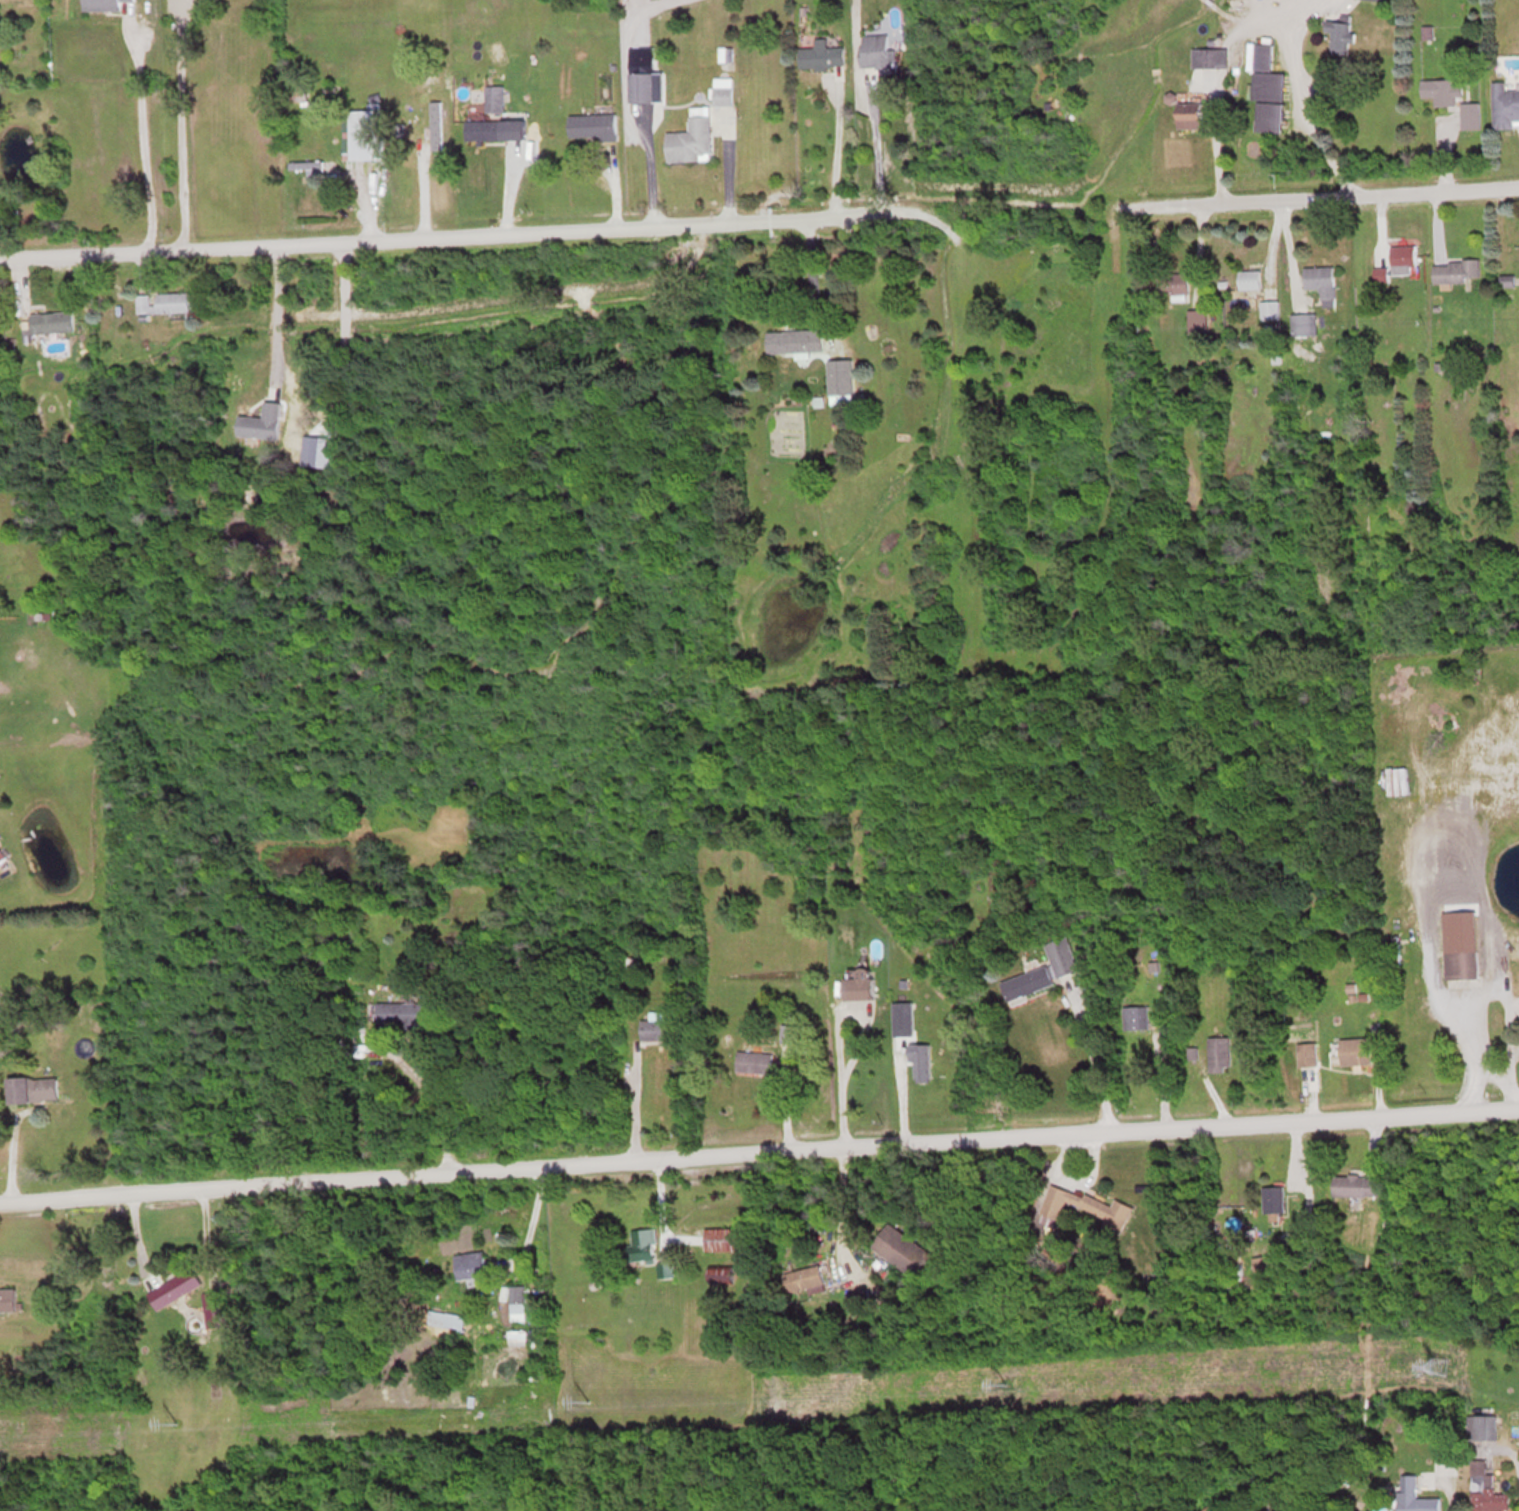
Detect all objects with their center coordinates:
building: (101, 5)
building: (1339, 34)
building: (876, 53)
building: (821, 56)
building: (1209, 58)
building: (641, 88)
building: (1265, 89)
building: (1440, 91)
building: (721, 96)
road: (1302, 98)
building: (494, 99)
building: (1504, 106)
building: (1470, 116)
building: (1188, 120)
building: (371, 121)
building: (436, 125)
building: (592, 127)
road: (181, 130)
building: (486, 130)
building: (691, 139)
road: (143, 149)
road: (837, 151)
road: (875, 157)
road: (730, 165)
building: (309, 167)
road: (1322, 196)
road: (449, 237)
building: (1397, 263)
building: (1456, 271)
building: (1249, 279)
building: (1320, 280)
building: (1173, 283)
building: (162, 301)
building: (1269, 309)
road: (278, 313)
building: (1197, 320)
building: (50, 321)
building: (1303, 323)
building: (795, 339)
building: (840, 379)
building: (261, 421)
building: (2, 855)
building: (336, 947)
building: (1062, 955)
building: (1461, 963)
building: (1027, 981)
building: (858, 984)
road: (1480, 991)
building: (404, 1013)
building: (659, 1026)
building: (789, 1033)
road: (839, 1038)
building: (1353, 1050)
building: (1218, 1053)
building: (1306, 1053)
building: (754, 1061)
building: (920, 1062)
road: (1092, 1069)
building: (31, 1088)
road: (634, 1104)
road: (434, 1107)
road: (759, 1157)
building: (1356, 1185)
building: (1272, 1201)
building: (1087, 1207)
road: (841, 1216)
building: (718, 1239)
building: (641, 1246)
building: (902, 1251)
building: (470, 1268)
building: (1262, 1268)
building: (664, 1269)
building: (805, 1280)
building: (174, 1288)
building: (8, 1300)
building: (214, 1309)
building: (517, 1338)
power tower: (1440, 1364)
power tower: (1006, 1383)
power tower: (591, 1399)
power tower: (178, 1424)
building: (1485, 1490)
building: (1414, 1496)

